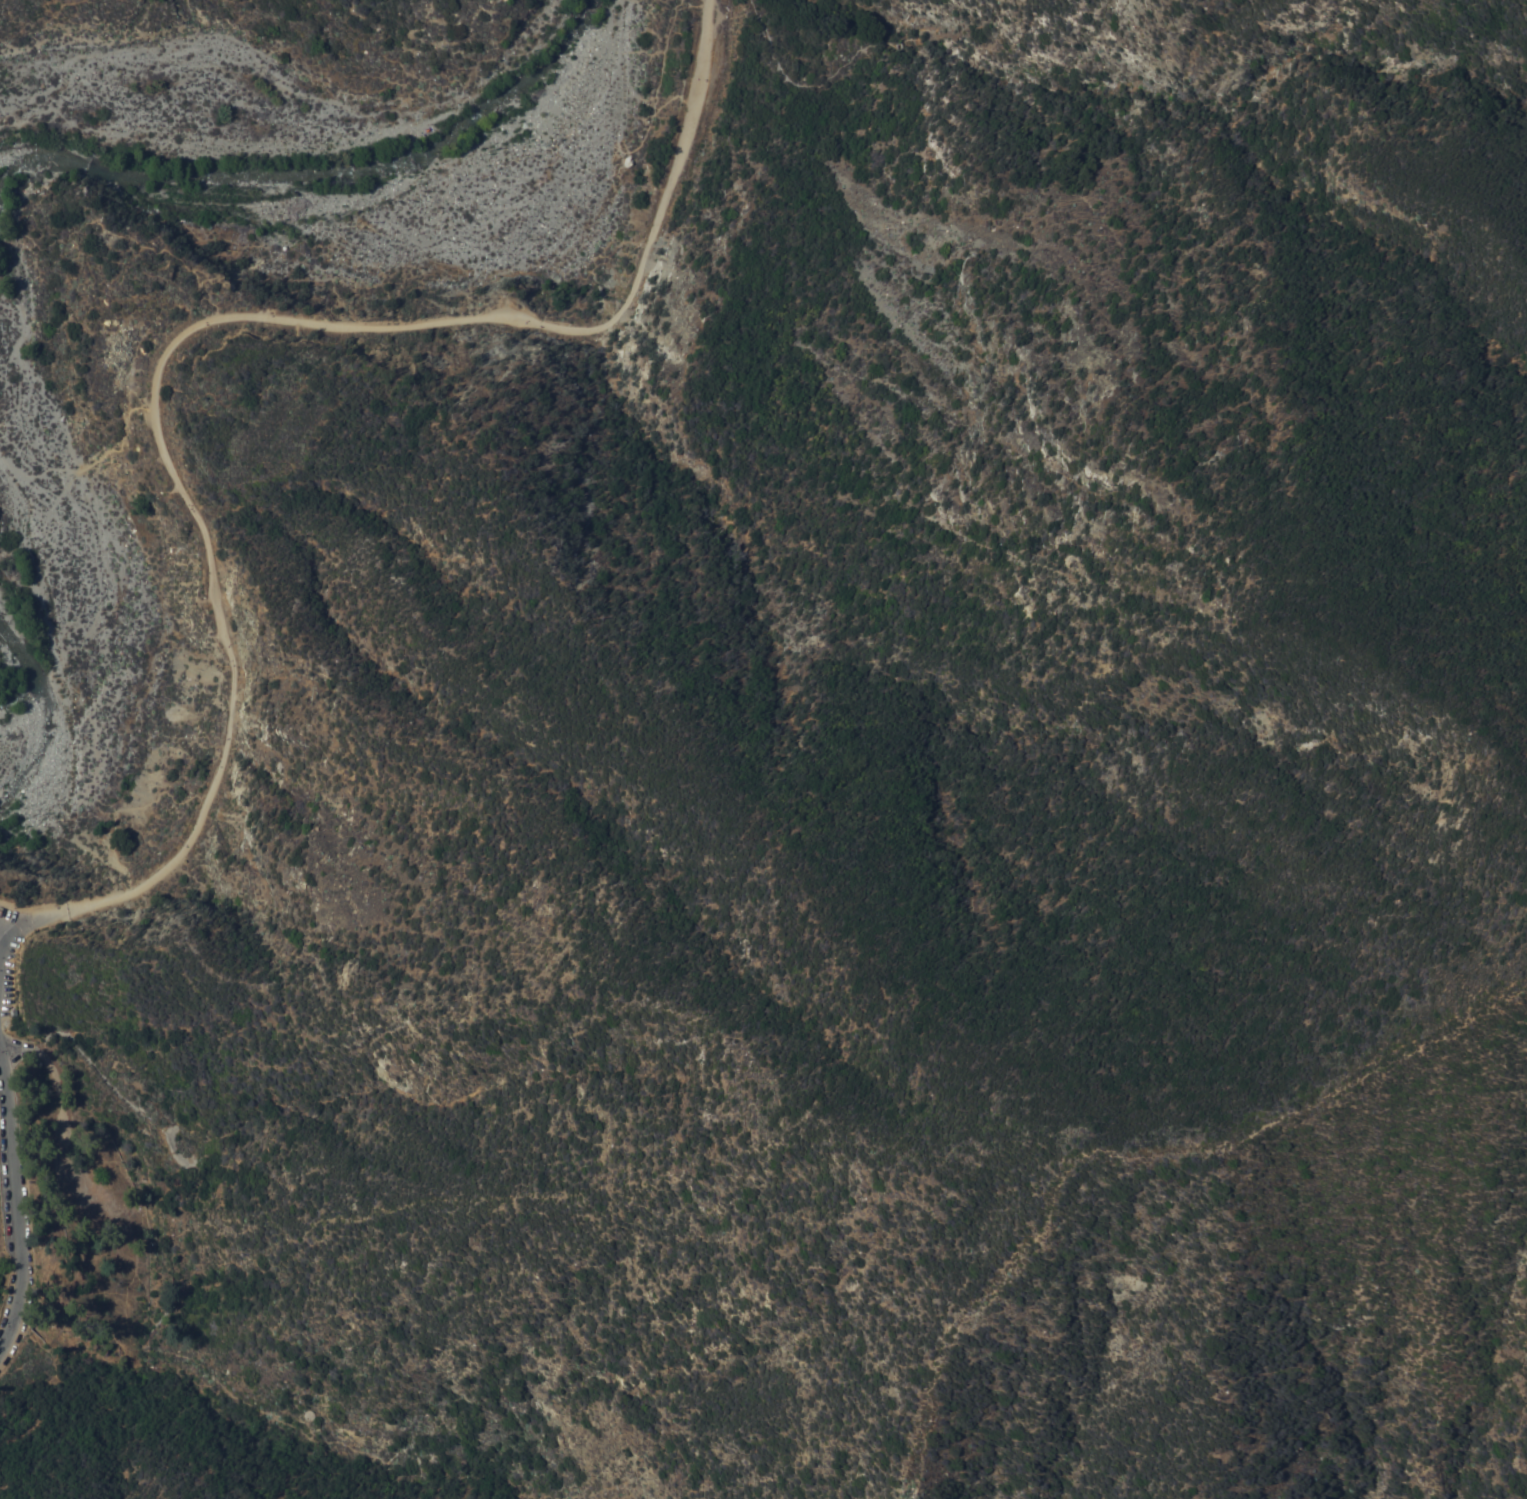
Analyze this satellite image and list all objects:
river: (313, 164)
road: (226, 319)
river: (26, 641)
road: (28, 924)
road: (5, 931)
parking lot: (10, 958)
road: (18, 1200)

